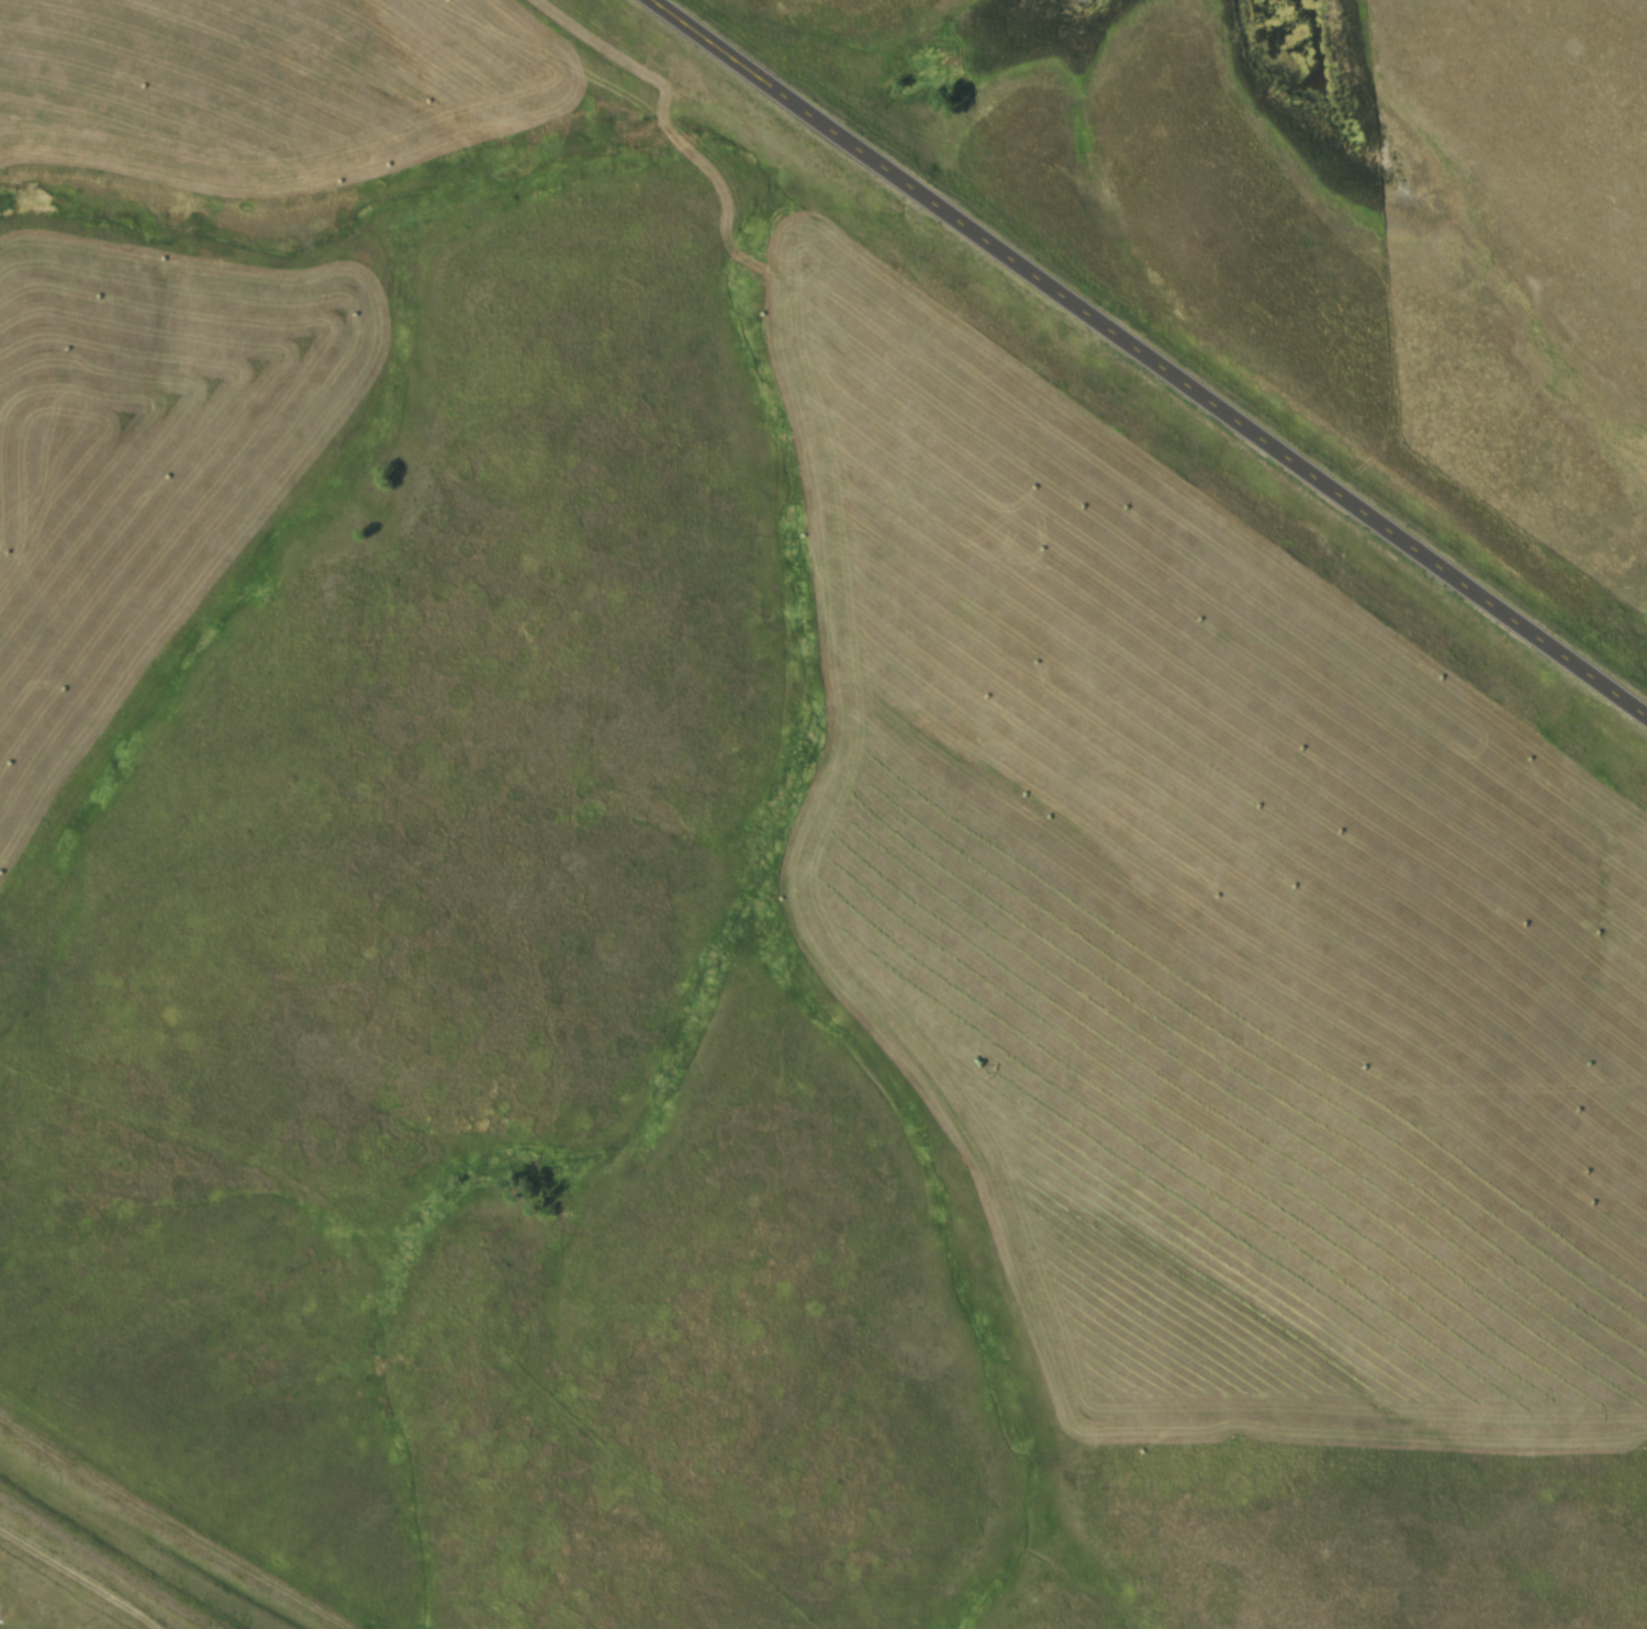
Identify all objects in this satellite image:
road: (1146, 361)
road: (166, 1527)
railway: (104, 1557)

